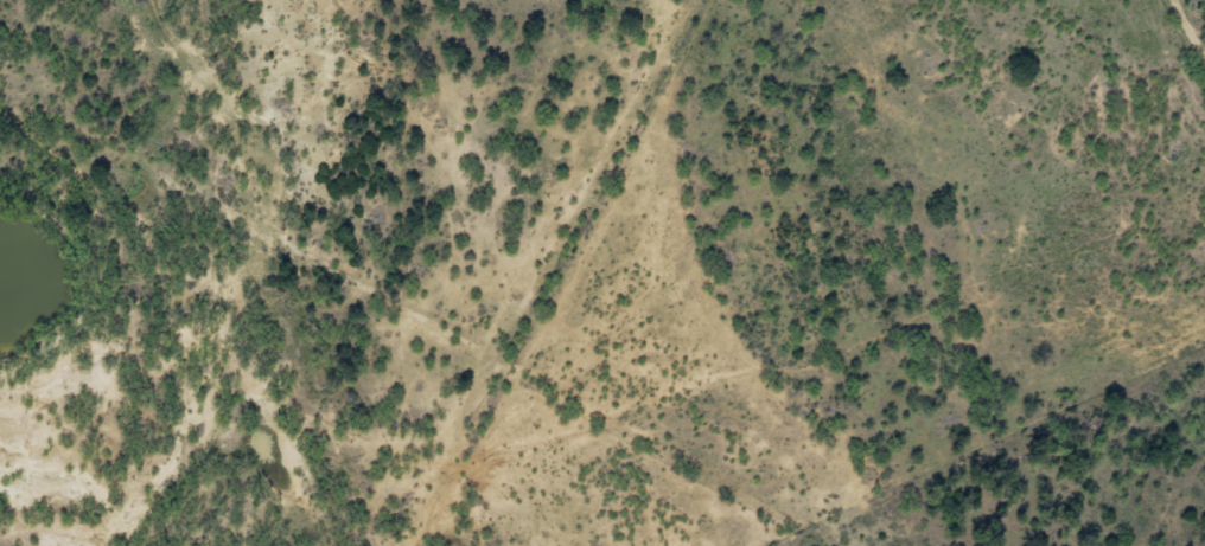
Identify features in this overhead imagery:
road: (168, 294)

